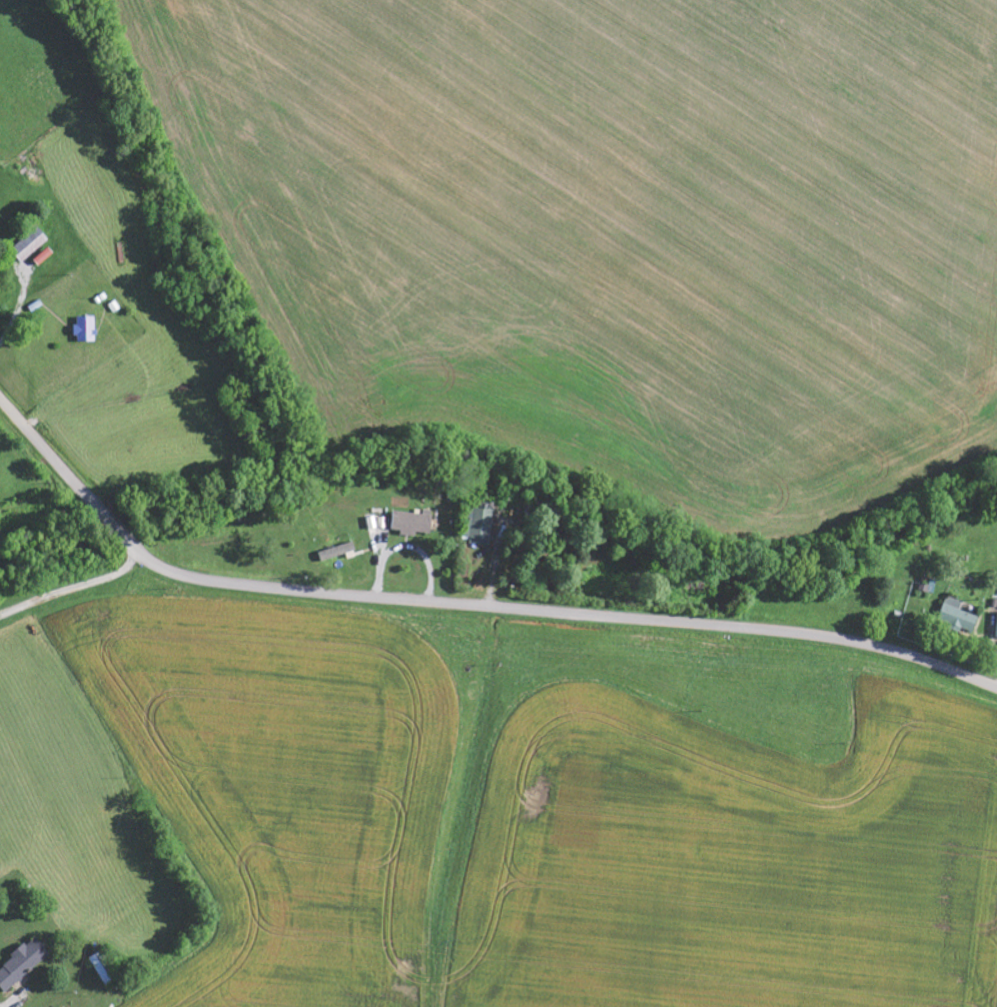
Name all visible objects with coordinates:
building: (30, 246)
road: (808, 316)
building: (86, 330)
building: (413, 524)
building: (482, 526)
building: (338, 552)
road: (53, 575)
road: (465, 607)
building: (958, 616)
building: (996, 639)
road: (51, 891)
building: (22, 965)
building: (104, 968)

